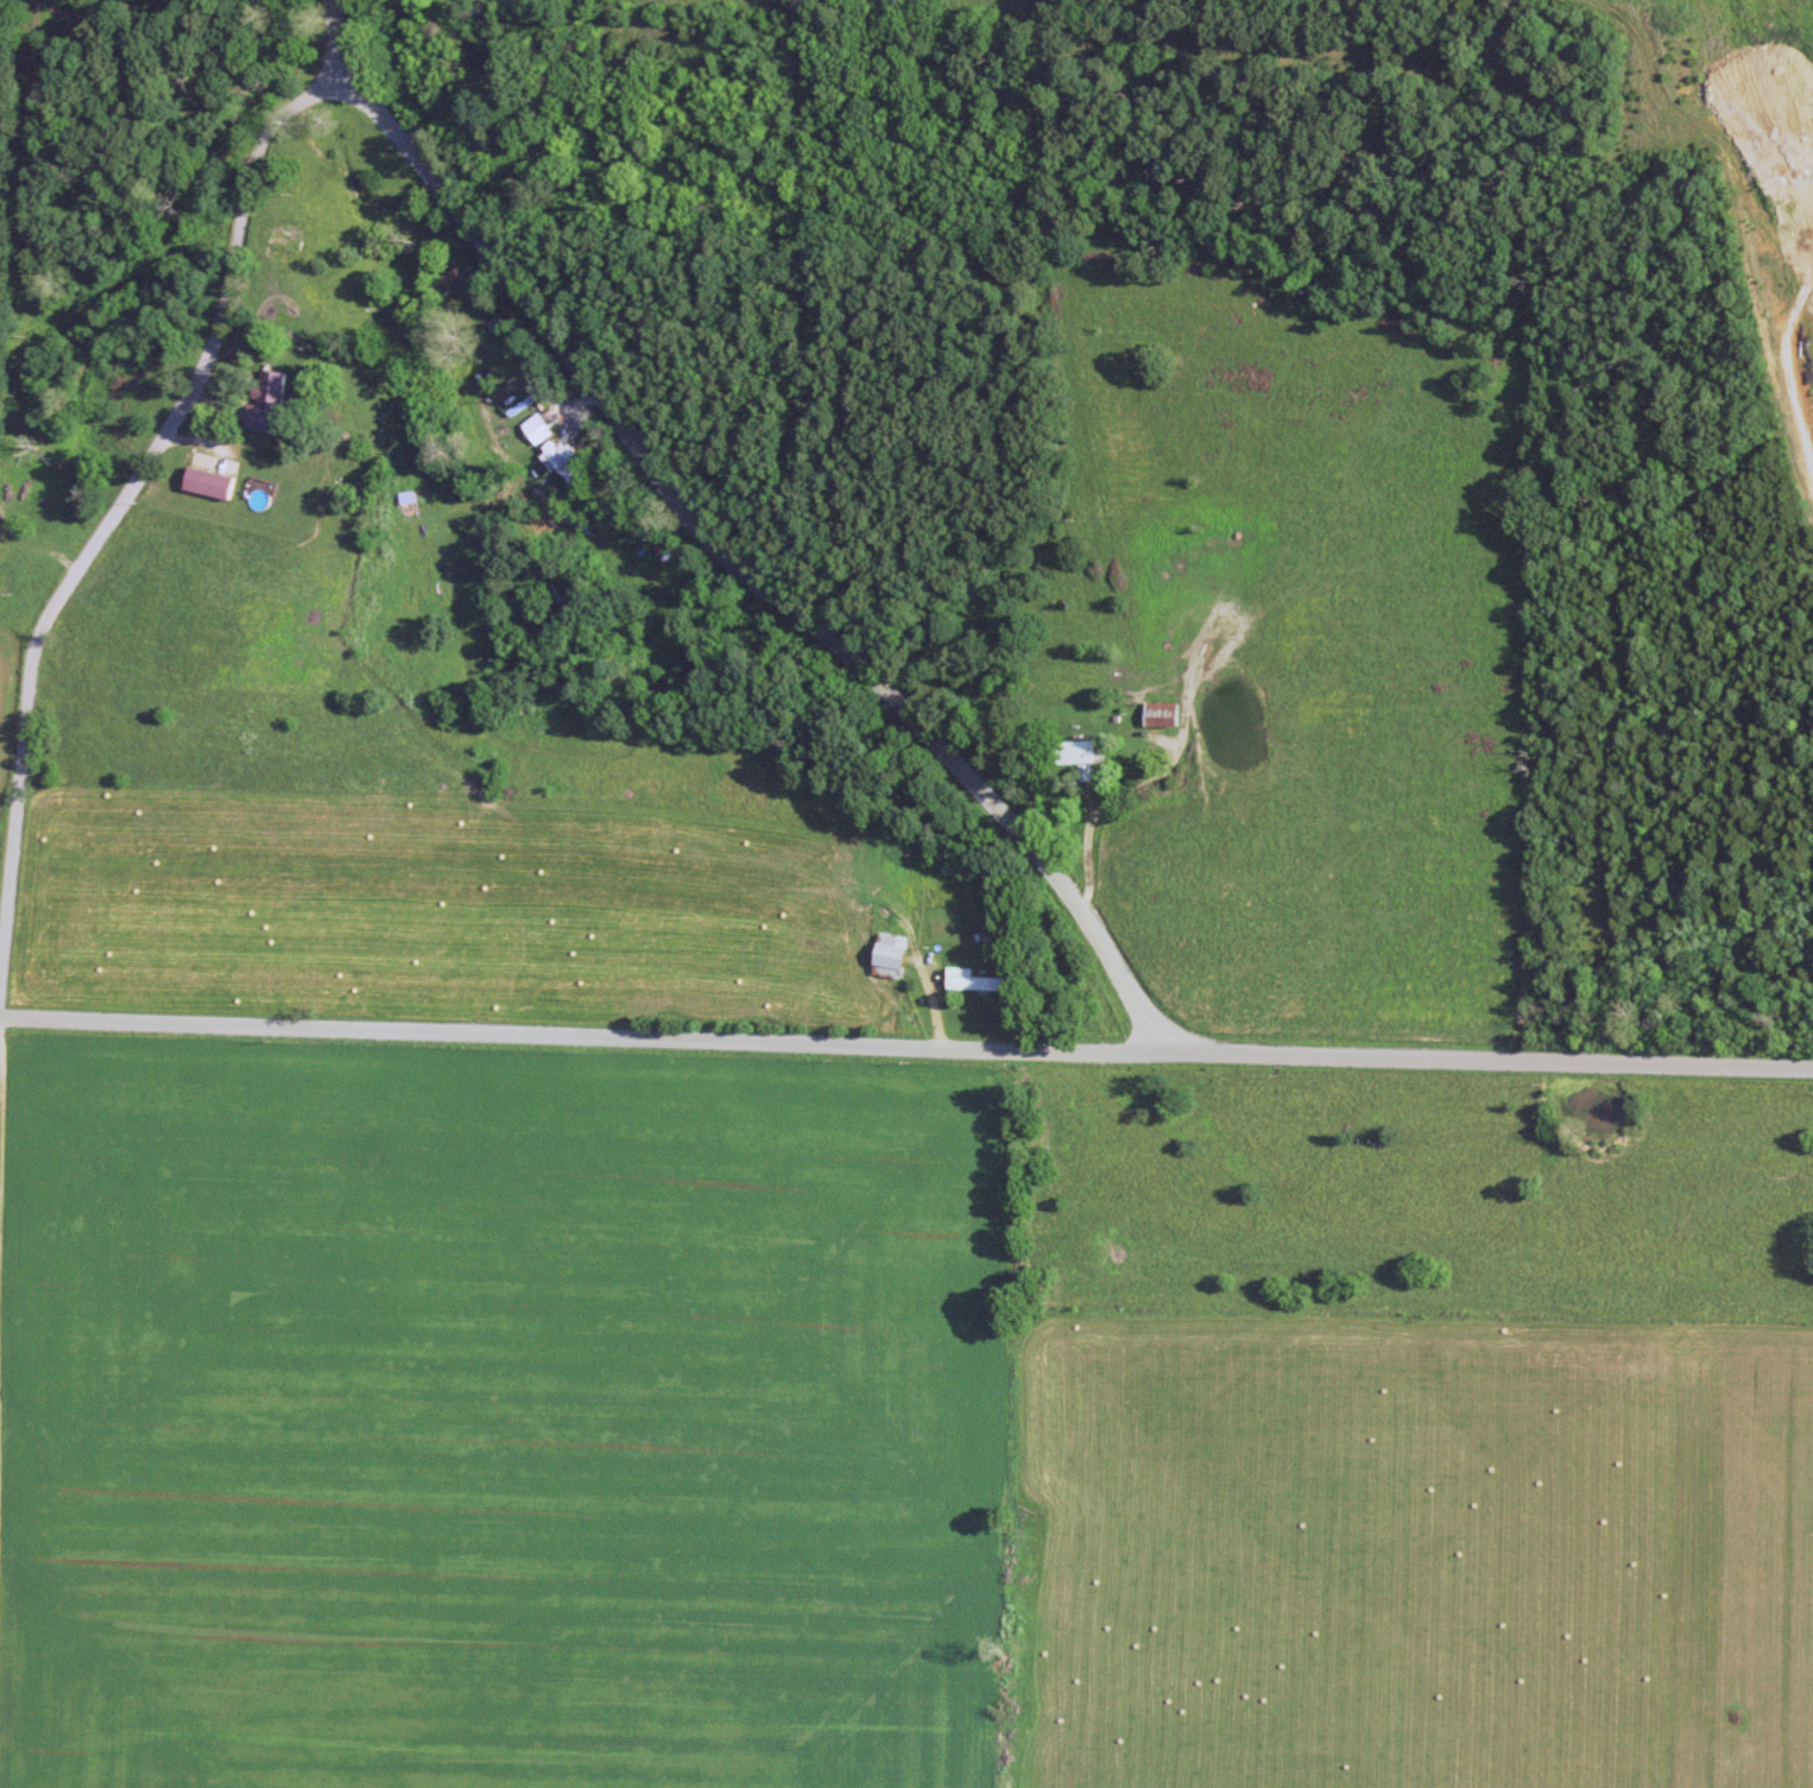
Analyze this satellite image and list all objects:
road: (335, 43)
building: (272, 399)
building: (539, 428)
building: (564, 463)
building: (214, 482)
building: (412, 497)
road: (119, 505)
road: (750, 574)
building: (1165, 714)
building: (1082, 751)
building: (895, 955)
building: (981, 984)
road: (905, 1047)

